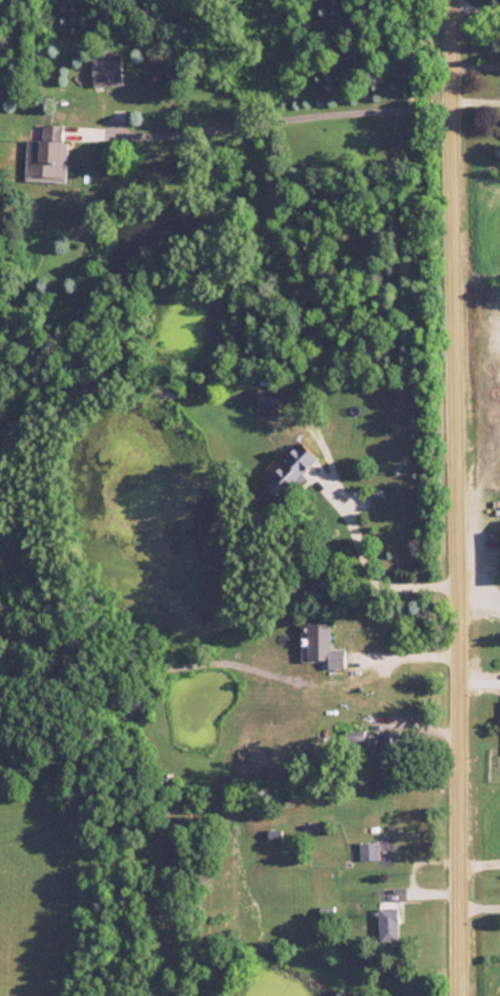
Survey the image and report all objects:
road: (476, 11)
road: (477, 65)
building: (111, 72)
road: (477, 101)
road: (274, 121)
building: (51, 157)
building: (267, 401)
building: (297, 469)
road: (457, 497)
road: (366, 565)
building: (323, 647)
road: (405, 655)
building: (356, 735)
building: (385, 745)
building: (369, 850)
road: (480, 862)
building: (389, 924)

